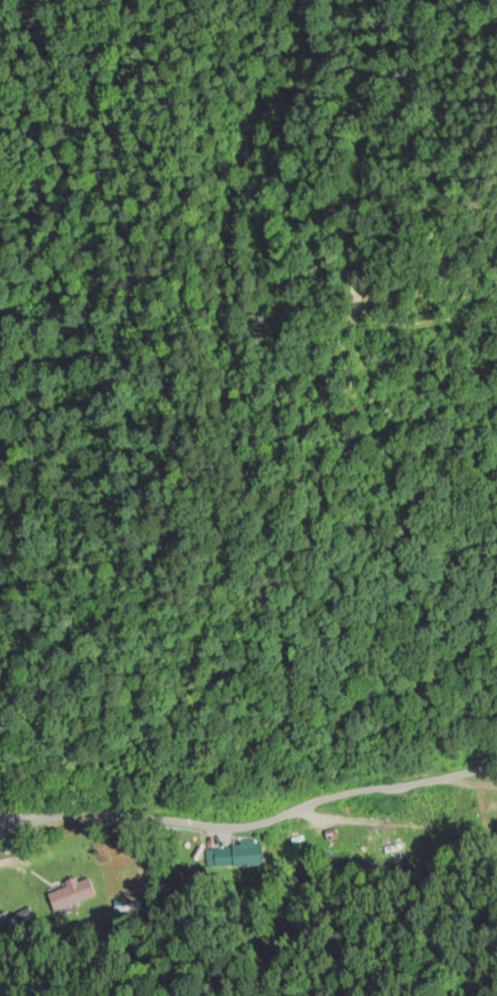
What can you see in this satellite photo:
road: (249, 837)
building: (235, 854)
building: (71, 892)
building: (13, 917)

